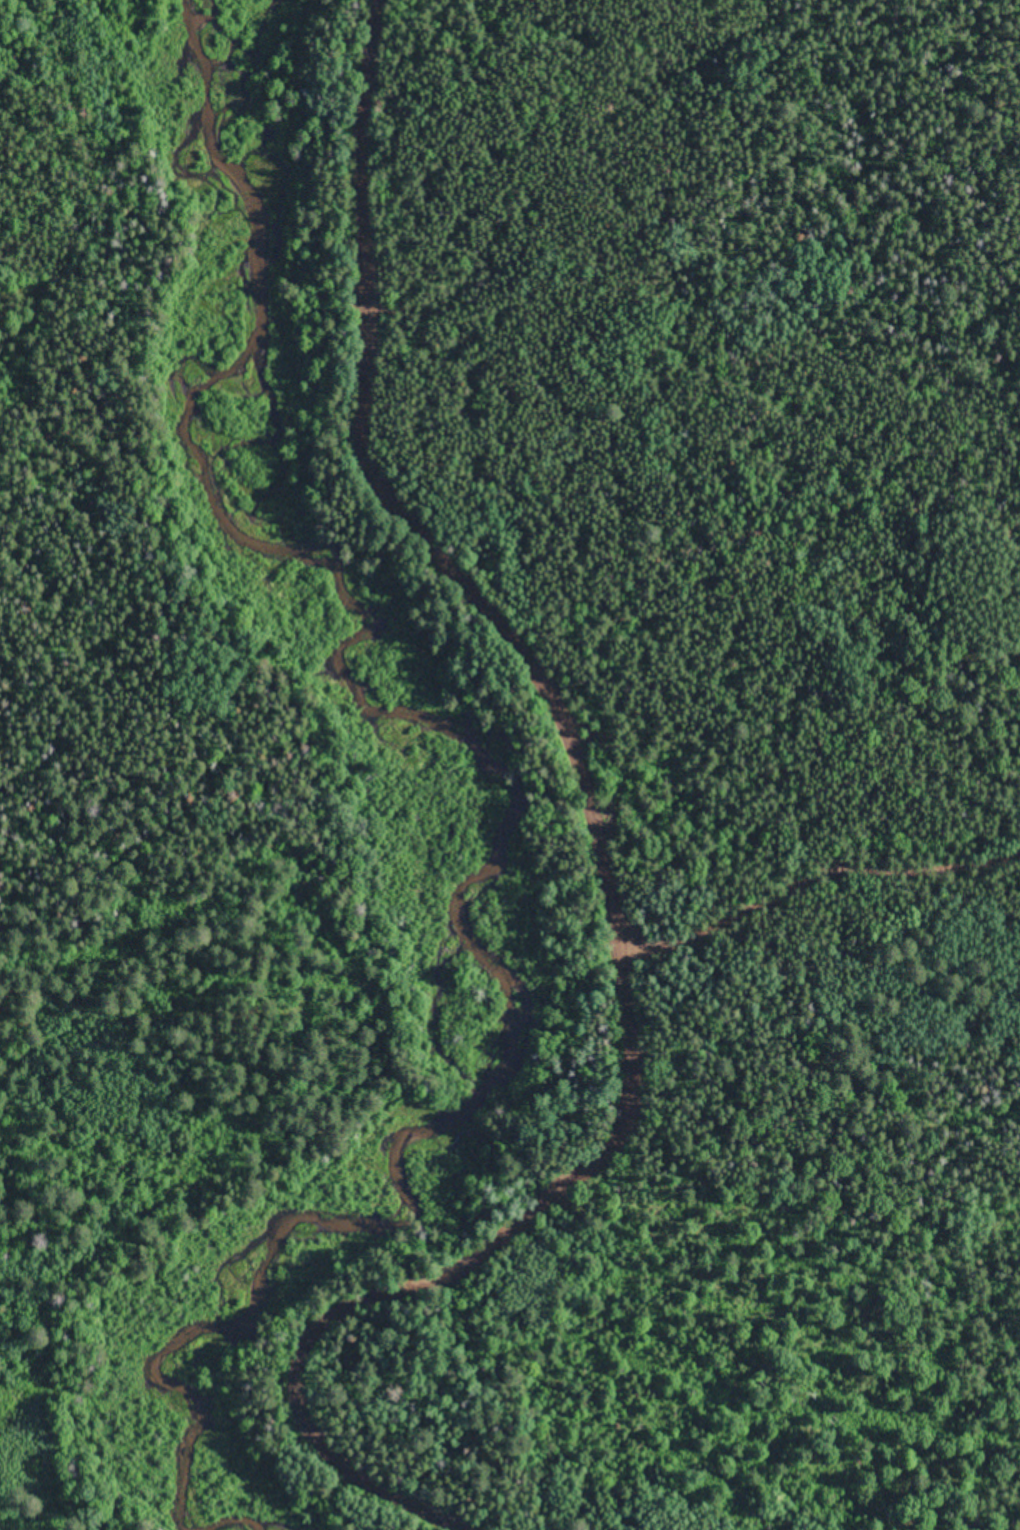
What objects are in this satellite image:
road: (623, 842)
road: (830, 845)
road: (133, 1017)

